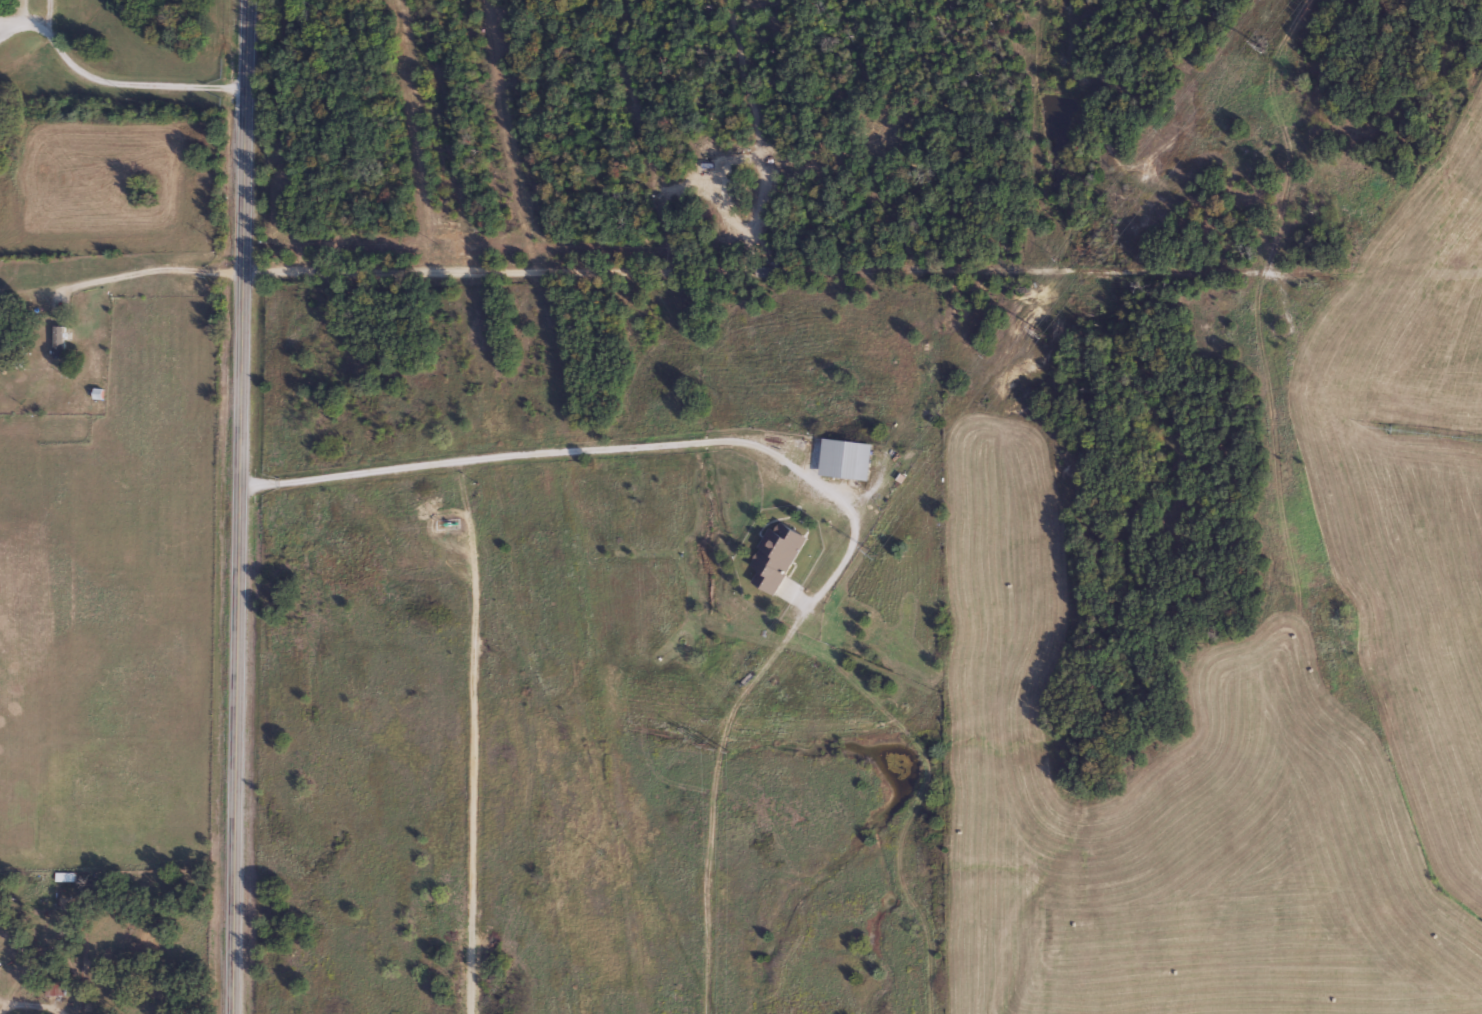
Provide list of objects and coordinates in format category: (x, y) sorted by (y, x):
road: (132, 81)
road: (150, 275)
building: (57, 341)
road: (614, 450)
building: (837, 458)
road: (245, 507)
building: (774, 556)
road: (39, 1004)

